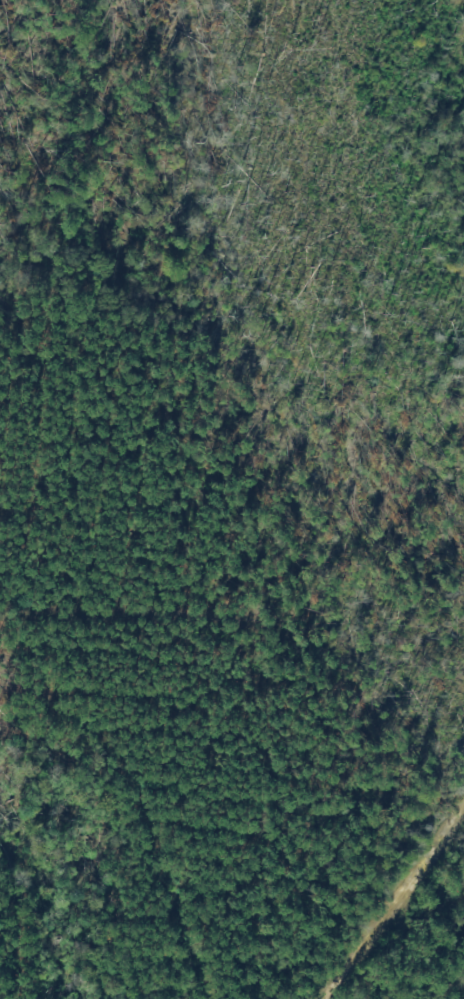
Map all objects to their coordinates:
road: (423, 939)

